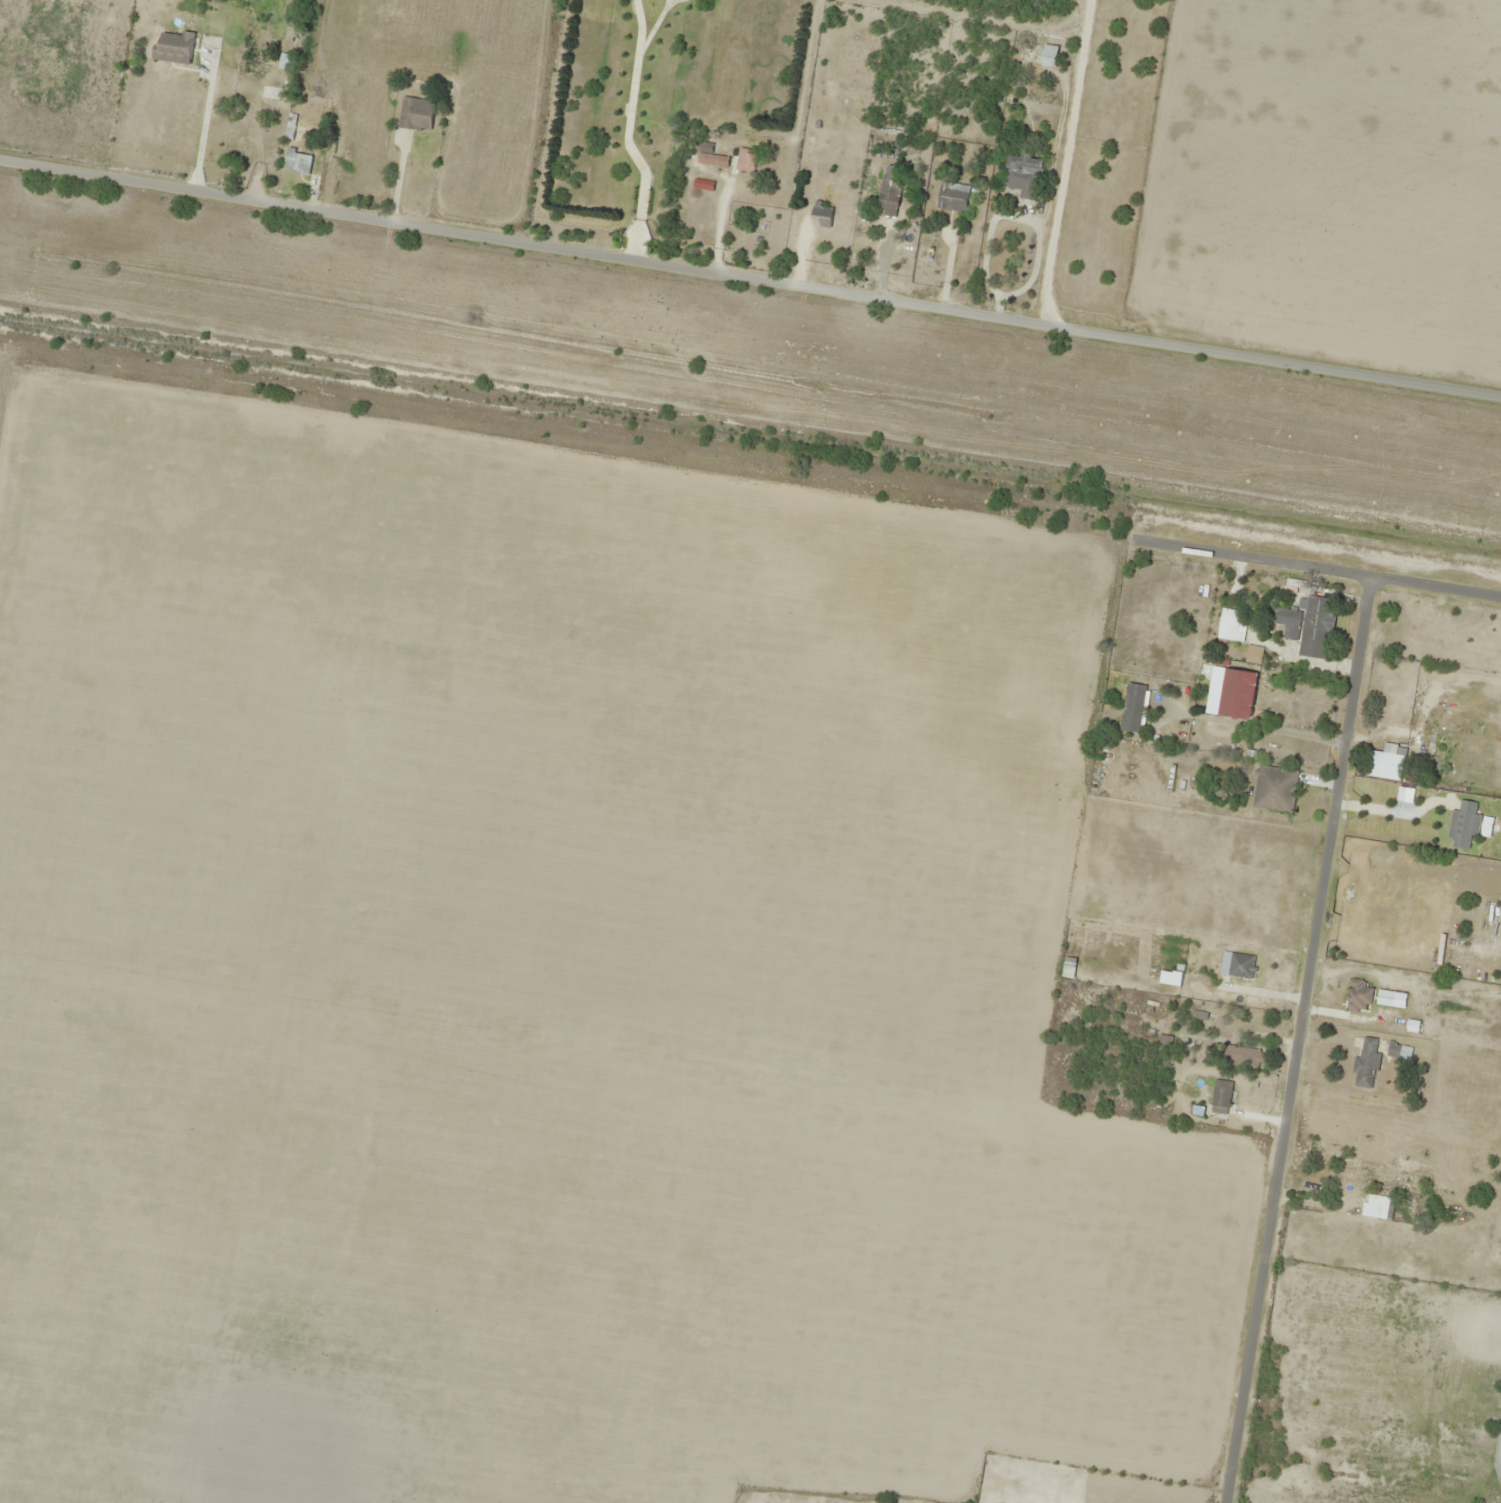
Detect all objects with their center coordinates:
building: (175, 47)
building: (1049, 55)
building: (416, 113)
building: (713, 160)
building: (746, 160)
building: (297, 162)
building: (1013, 174)
building: (890, 191)
building: (953, 196)
building: (822, 214)
road: (750, 278)
road: (1312, 563)
building: (1231, 625)
building: (1308, 625)
building: (1254, 653)
building: (1238, 693)
building: (1134, 708)
building: (1386, 763)
building: (1275, 788)
building: (1464, 824)
building: (1238, 965)
building: (1068, 967)
building: (1171, 978)
building: (1411, 1001)
road: (1297, 1038)
building: (1165, 1044)
building: (1399, 1051)
building: (1241, 1056)
building: (1367, 1063)
building: (1221, 1097)
building: (1377, 1207)

